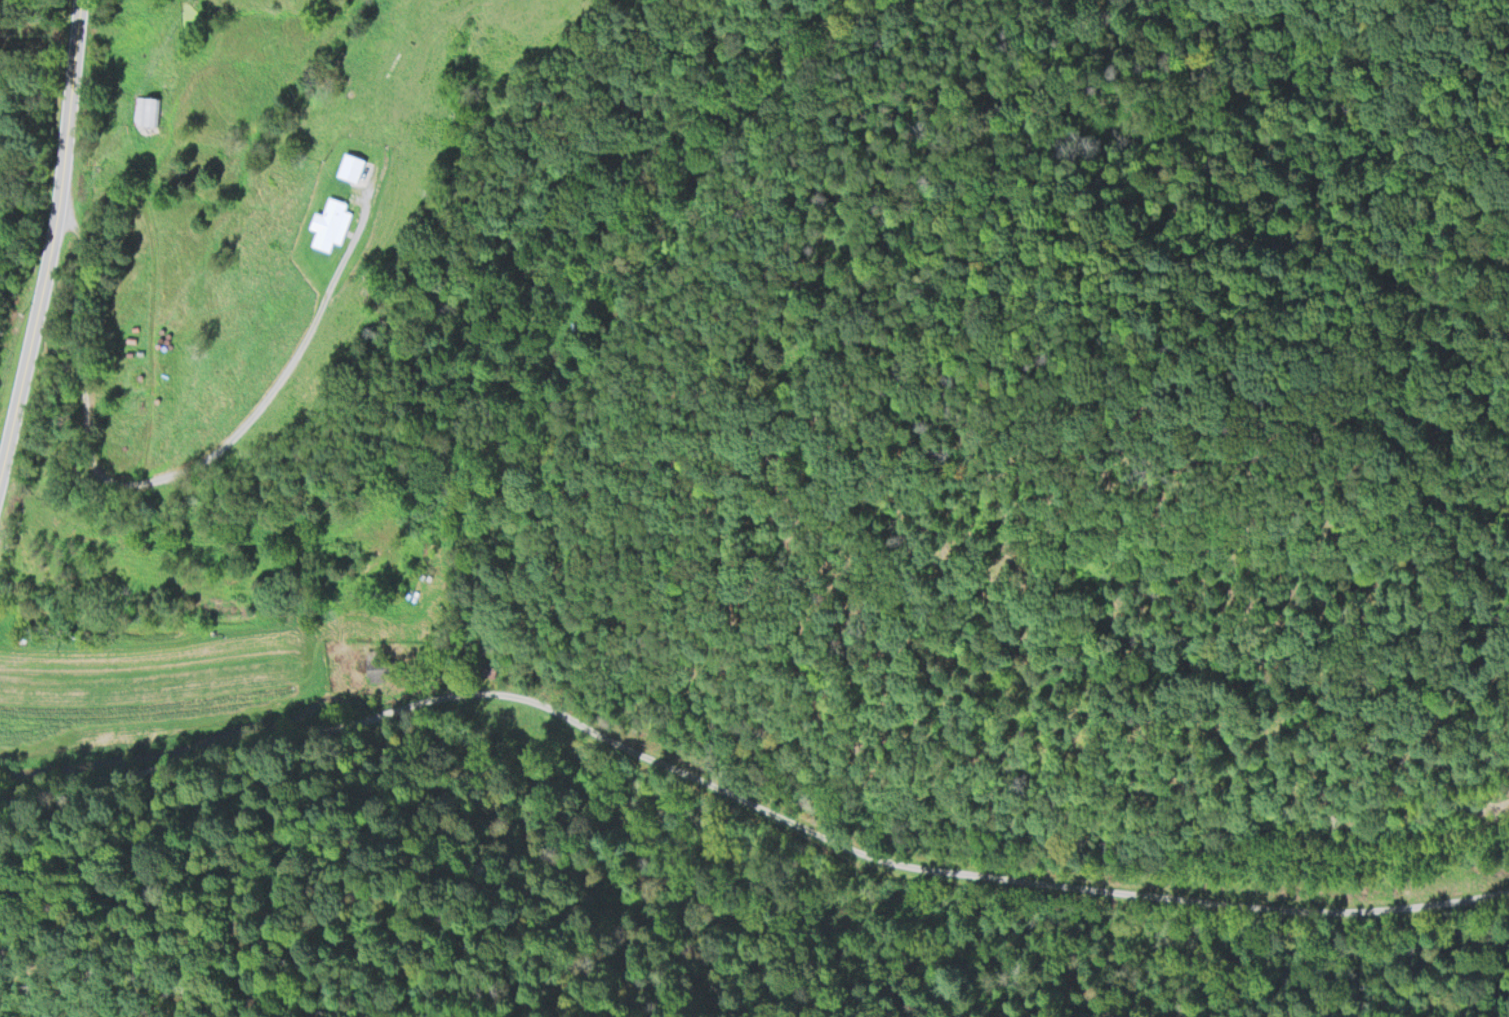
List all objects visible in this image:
building: (145, 112)
building: (353, 166)
building: (330, 221)
road: (51, 242)
road: (152, 293)
road: (78, 360)
road: (278, 382)
building: (380, 664)
road: (383, 714)
road: (184, 762)
road: (936, 870)

